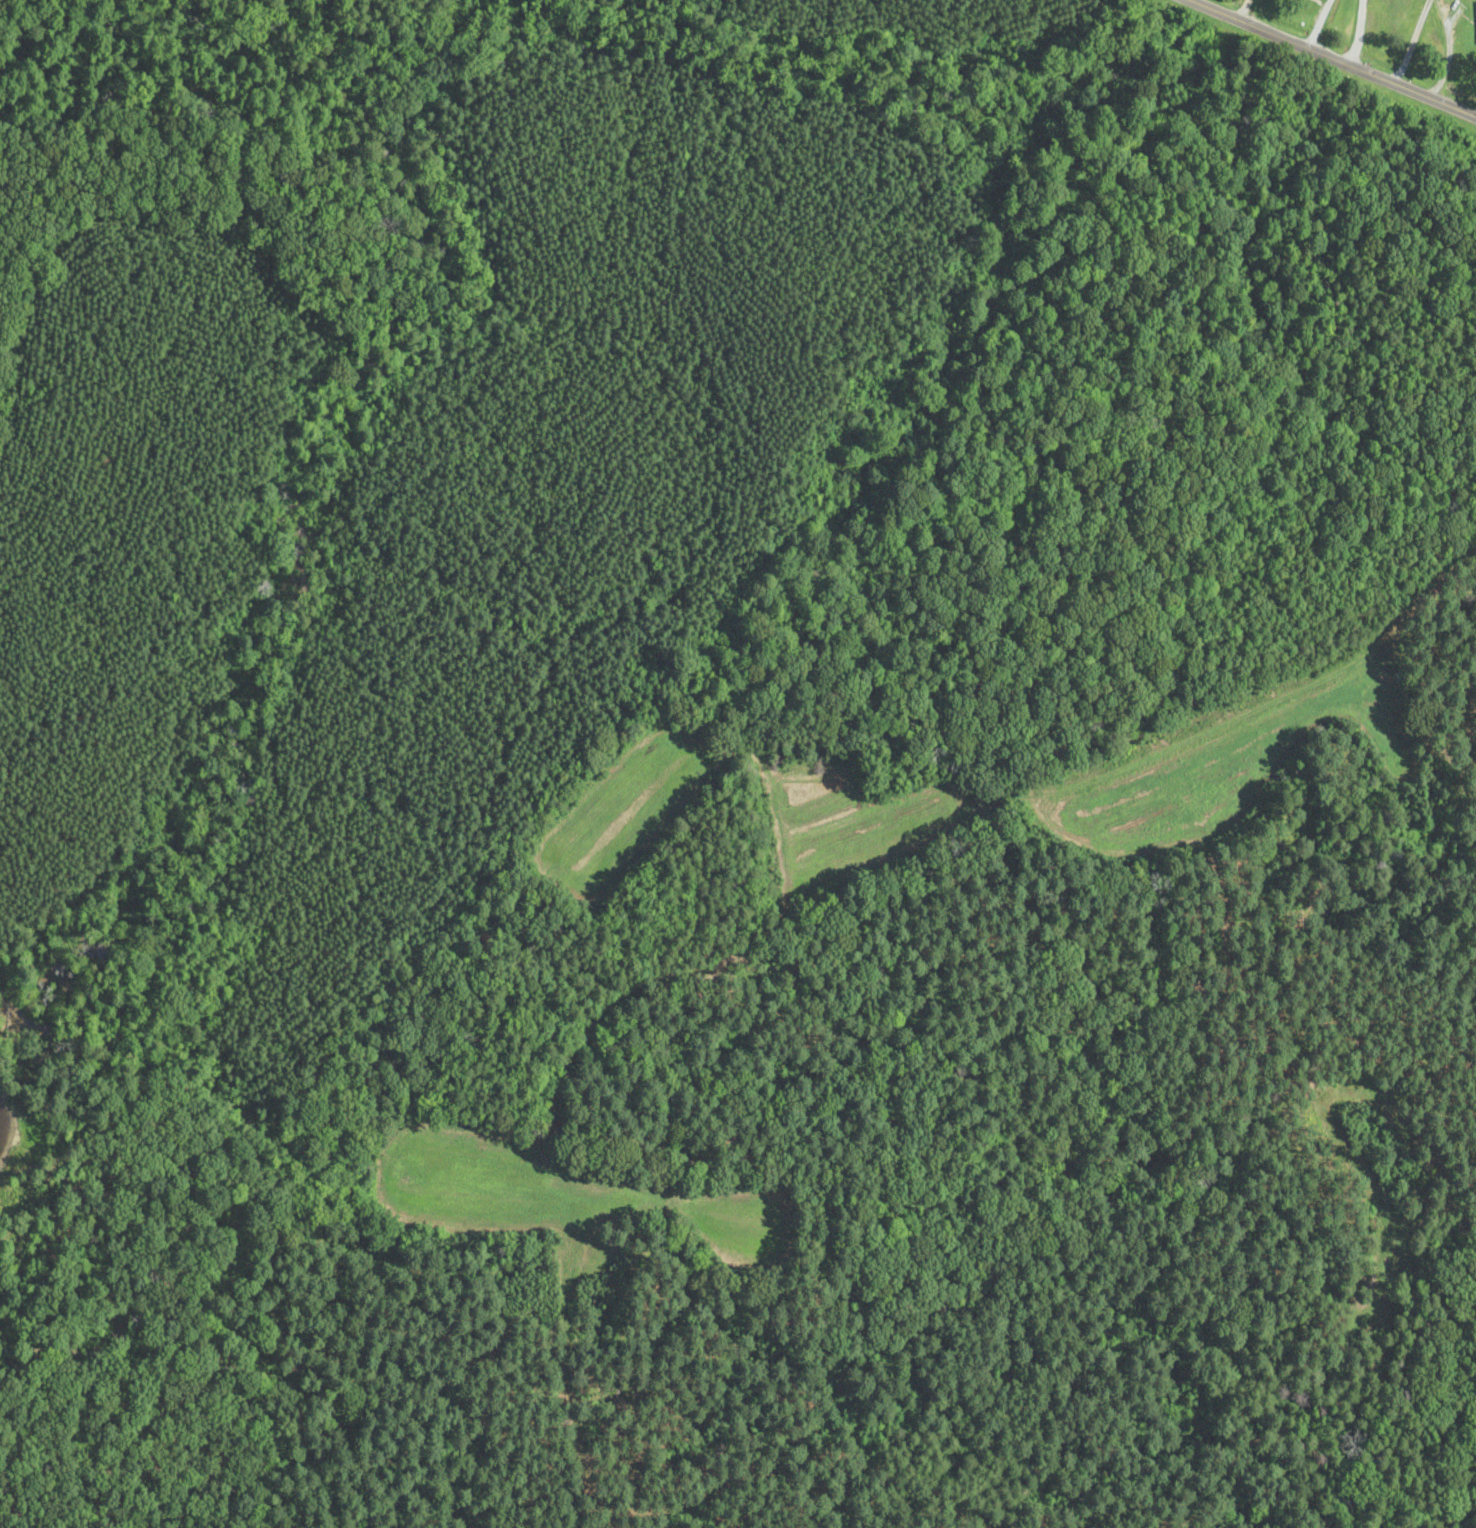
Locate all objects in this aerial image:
building: (1327, 0)
road: (1411, 43)
road: (1332, 60)

